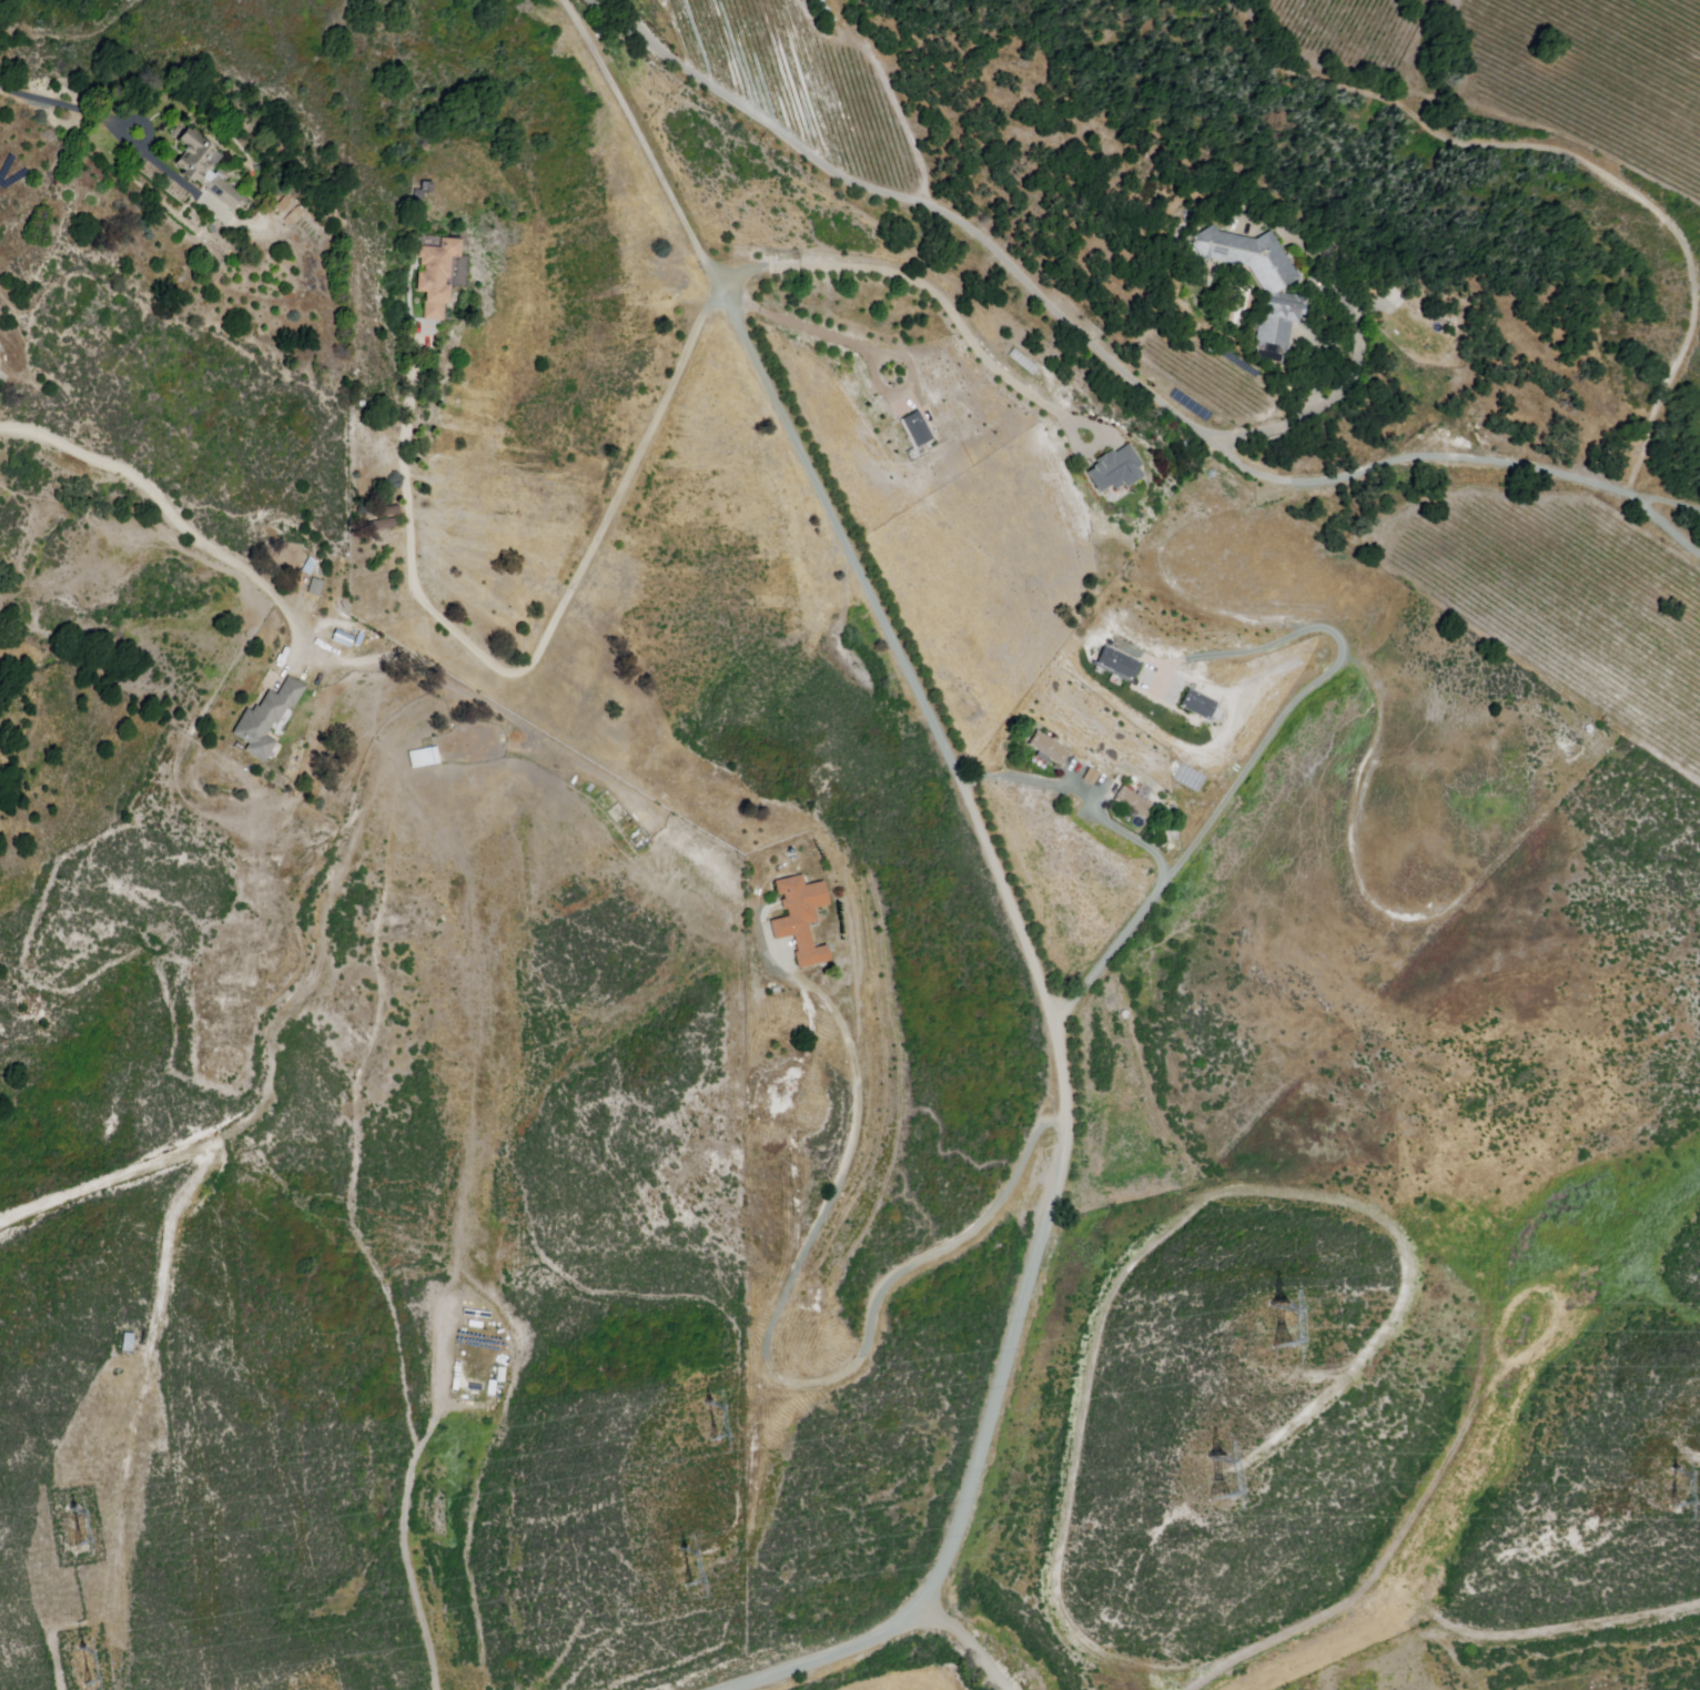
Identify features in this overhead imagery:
storage tank: (820, 3)
storage tank: (826, 13)
storage tank: (832, 23)
road: (68, 109)
road: (1566, 152)
building: (196, 153)
building: (226, 192)
road: (911, 202)
building: (283, 204)
building: (293, 215)
building: (436, 275)
building: (1261, 282)
road: (864, 350)
road: (1322, 380)
building: (913, 427)
road: (649, 432)
road: (1417, 461)
building: (1117, 469)
road: (1643, 500)
road: (171, 513)
building: (317, 587)
building: (342, 637)
building: (360, 639)
building: (1116, 665)
building: (1197, 707)
building: (266, 719)
building: (1051, 749)
building: (423, 757)
building: (1135, 802)
road: (1005, 877)
road: (1156, 902)
building: (802, 919)
power tower: (1282, 1328)
building: (124, 1343)
road: (772, 1360)
building: (502, 1374)
building: (473, 1387)
building: (492, 1387)
power tower: (705, 1416)
power tower: (1216, 1477)
power tower: (1673, 1489)
road: (409, 1498)
power tower: (71, 1521)
power tower: (676, 1568)
road: (971, 1643)
power tower: (78, 1667)

